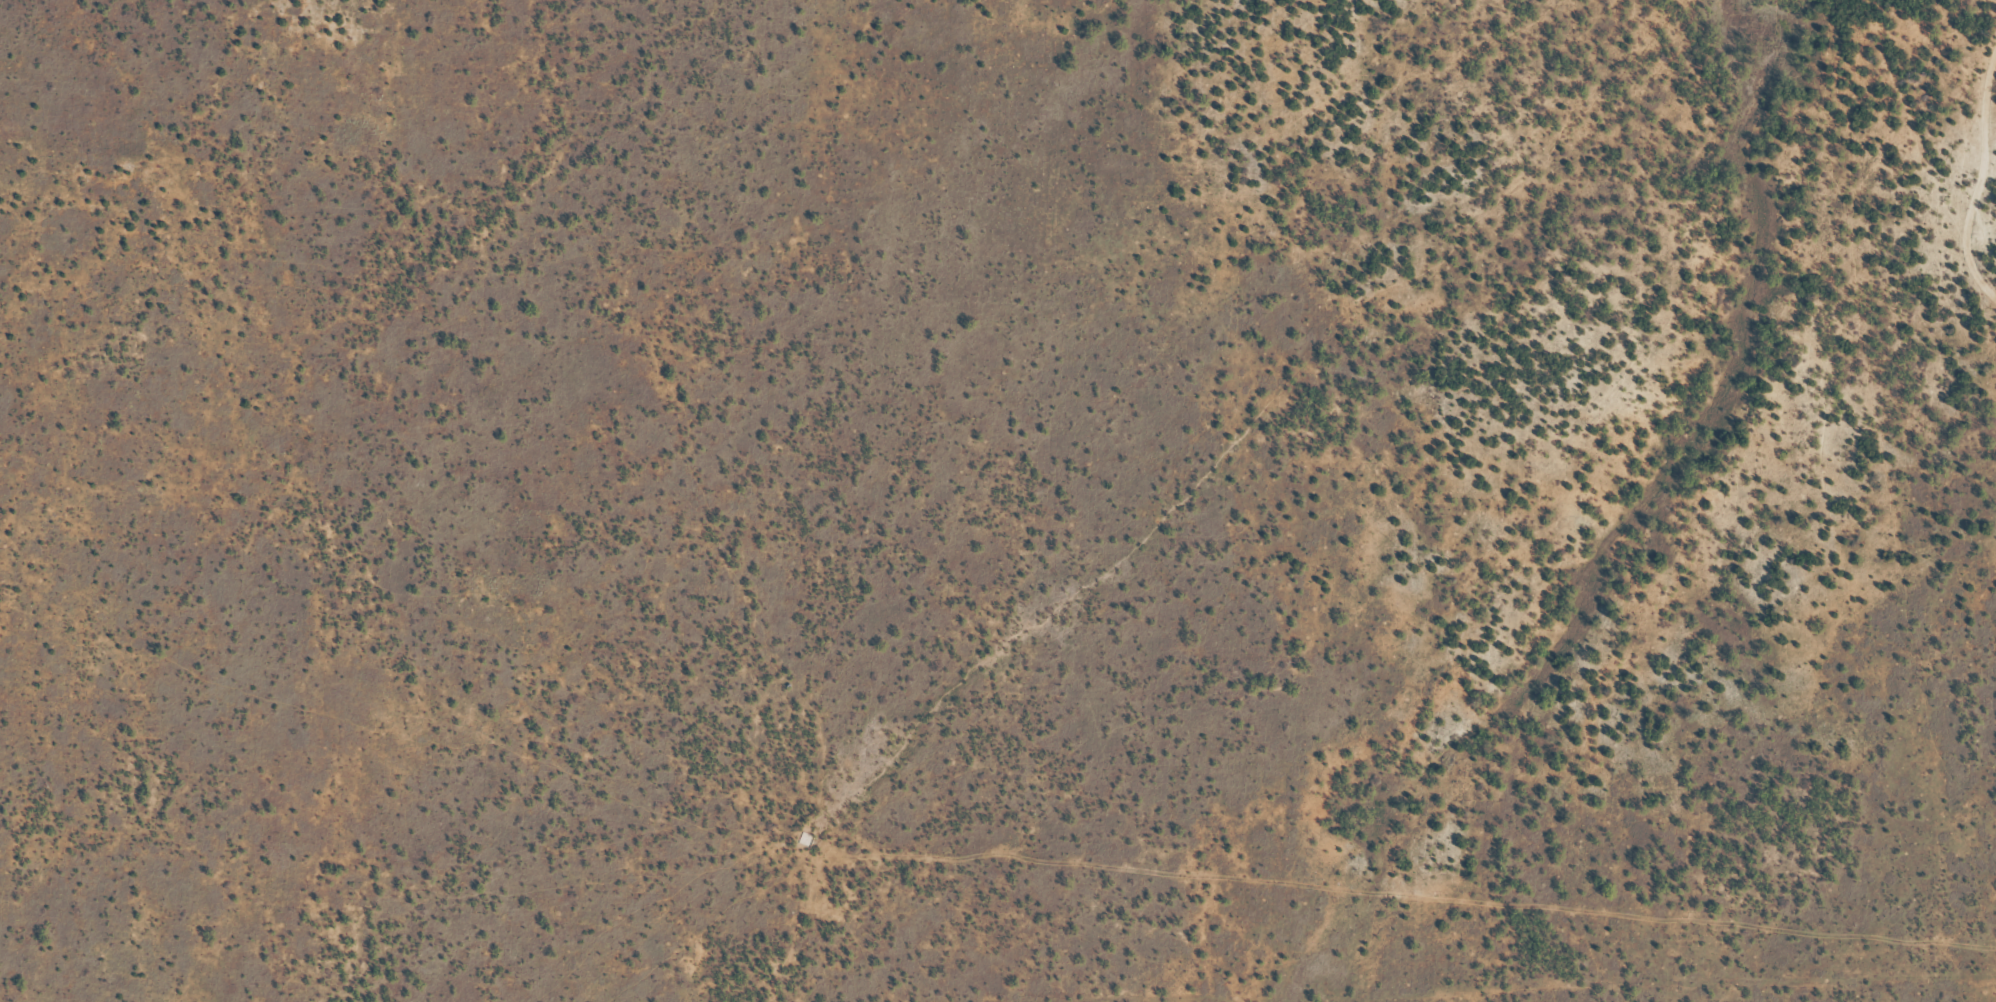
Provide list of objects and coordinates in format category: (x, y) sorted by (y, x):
road: (1943, 271)
road: (1988, 348)

